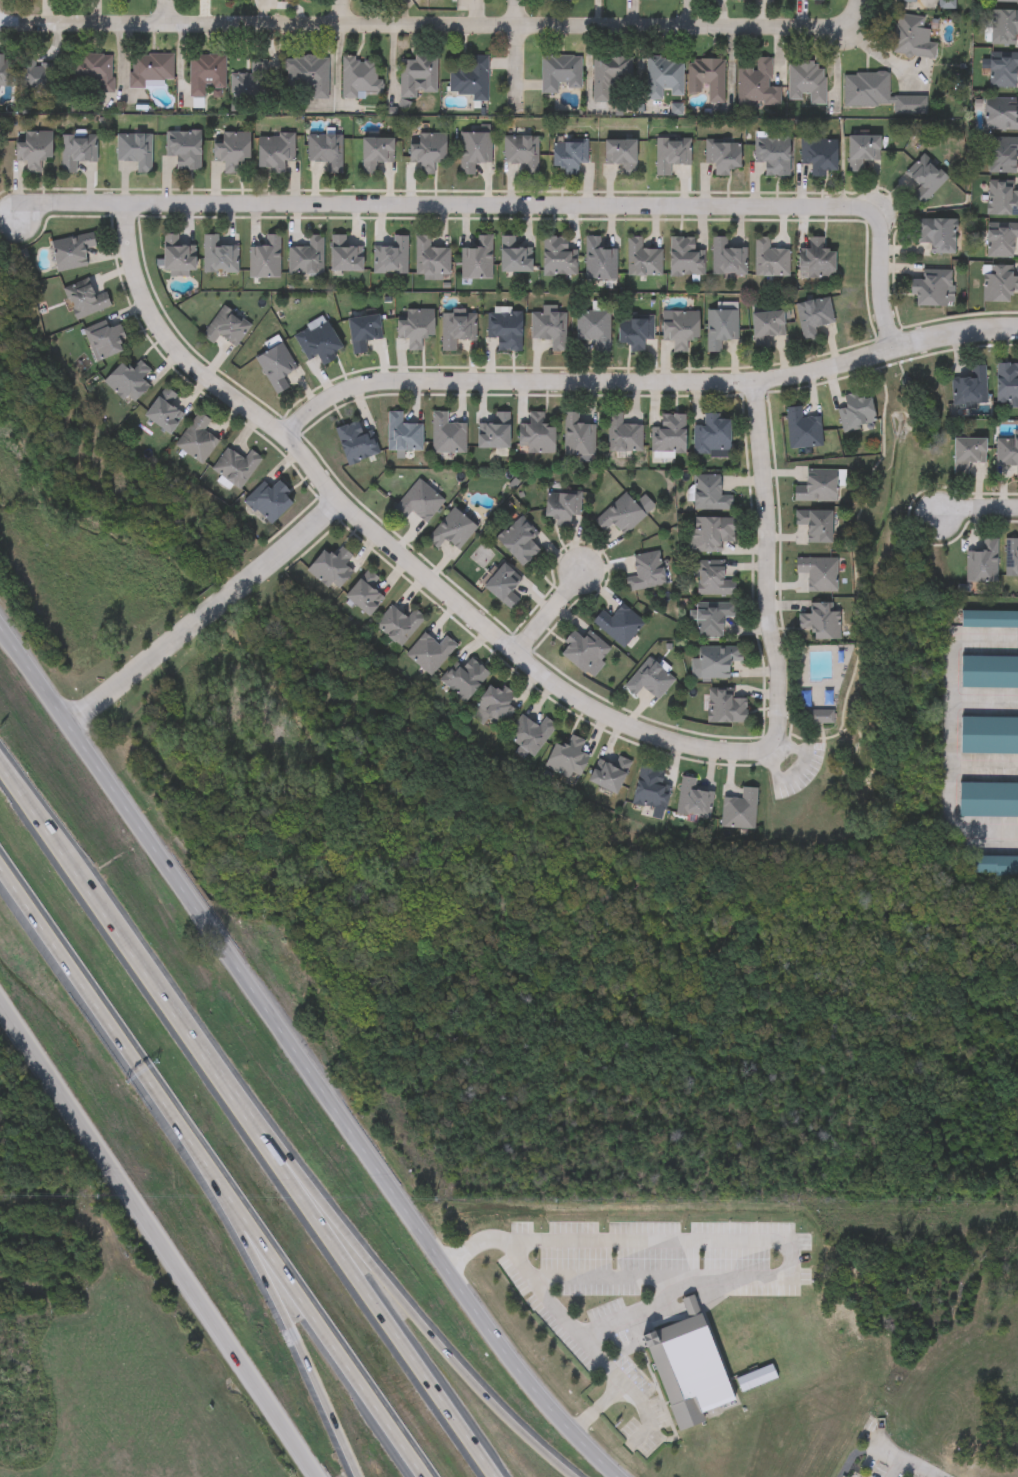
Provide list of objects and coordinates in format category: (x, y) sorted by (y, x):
building: (475, 0)
building: (557, 0)
building: (765, 0)
building: (904, 1)
building: (1007, 1)
road: (167, 12)
road: (341, 13)
road: (692, 14)
road: (436, 27)
building: (1004, 27)
building: (913, 38)
road: (518, 51)
road: (877, 51)
building: (4, 70)
building: (149, 70)
building: (1003, 70)
building: (37, 72)
building: (90, 74)
building: (206, 74)
building: (560, 74)
building: (607, 76)
building: (418, 77)
building: (305, 78)
building: (359, 78)
building: (663, 78)
building: (470, 79)
building: (706, 79)
building: (250, 82)
building: (806, 84)
building: (757, 86)
building: (872, 93)
building: (1002, 115)
building: (184, 149)
building: (34, 150)
building: (231, 150)
building: (136, 151)
building: (275, 151)
building: (427, 151)
building: (474, 151)
building: (863, 151)
building: (325, 152)
building: (522, 153)
building: (376, 154)
building: (78, 155)
building: (569, 155)
building: (670, 155)
building: (723, 155)
building: (773, 155)
building: (820, 155)
building: (621, 156)
building: (1003, 156)
building: (926, 179)
building: (1003, 198)
road: (513, 206)
building: (938, 236)
building: (1001, 240)
building: (72, 252)
building: (219, 256)
building: (345, 256)
building: (515, 256)
building: (178, 257)
building: (306, 257)
building: (392, 257)
building: (558, 257)
building: (685, 257)
building: (431, 258)
building: (727, 258)
building: (265, 259)
building: (642, 259)
building: (770, 259)
building: (817, 260)
building: (476, 261)
building: (599, 261)
building: (999, 284)
building: (930, 289)
building: (86, 300)
building: (813, 317)
building: (226, 328)
building: (415, 328)
building: (550, 328)
building: (767, 328)
building: (457, 329)
building: (594, 329)
building: (720, 329)
building: (505, 330)
building: (680, 330)
building: (635, 332)
building: (364, 333)
building: (105, 341)
building: (318, 342)
building: (276, 368)
building: (129, 382)
road: (645, 382)
building: (1007, 384)
building: (970, 388)
building: (165, 412)
building: (857, 413)
building: (802, 430)
building: (494, 433)
building: (403, 435)
building: (447, 435)
building: (537, 435)
building: (623, 435)
building: (669, 435)
building: (578, 437)
building: (712, 437)
building: (197, 440)
building: (356, 443)
building: (968, 454)
building: (1007, 454)
building: (236, 468)
building: (817, 487)
building: (709, 495)
building: (270, 502)
building: (419, 502)
building: (563, 507)
road: (981, 510)
building: (621, 516)
building: (816, 525)
building: (453, 530)
building: (715, 536)
road: (394, 539)
building: (519, 541)
building: (1011, 558)
road: (764, 563)
building: (983, 563)
building: (332, 569)
building: (647, 572)
building: (818, 574)
building: (715, 578)
building: (504, 586)
building: (364, 597)
road: (563, 610)
road: (212, 614)
building: (712, 619)
building: (821, 620)
building: (990, 620)
building: (399, 625)
building: (618, 625)
building: (582, 651)
building: (430, 653)
building: (715, 663)
building: (990, 673)
building: (465, 679)
building: (650, 680)
building: (497, 704)
building: (726, 708)
building: (820, 717)
road: (951, 734)
building: (530, 735)
building: (989, 737)
building: (569, 758)
road: (794, 770)
building: (610, 775)
building: (651, 790)
building: (693, 799)
building: (988, 802)
building: (739, 811)
building: (996, 867)
road: (111, 1021)
road: (305, 1060)
road: (249, 1115)
road: (157, 1239)
road: (790, 1247)
building: (719, 1248)
road: (649, 1308)
road: (419, 1315)
road: (566, 1315)
road: (291, 1330)
road: (323, 1330)
building: (689, 1374)
road: (647, 1413)
road: (866, 1450)
road: (915, 1465)

